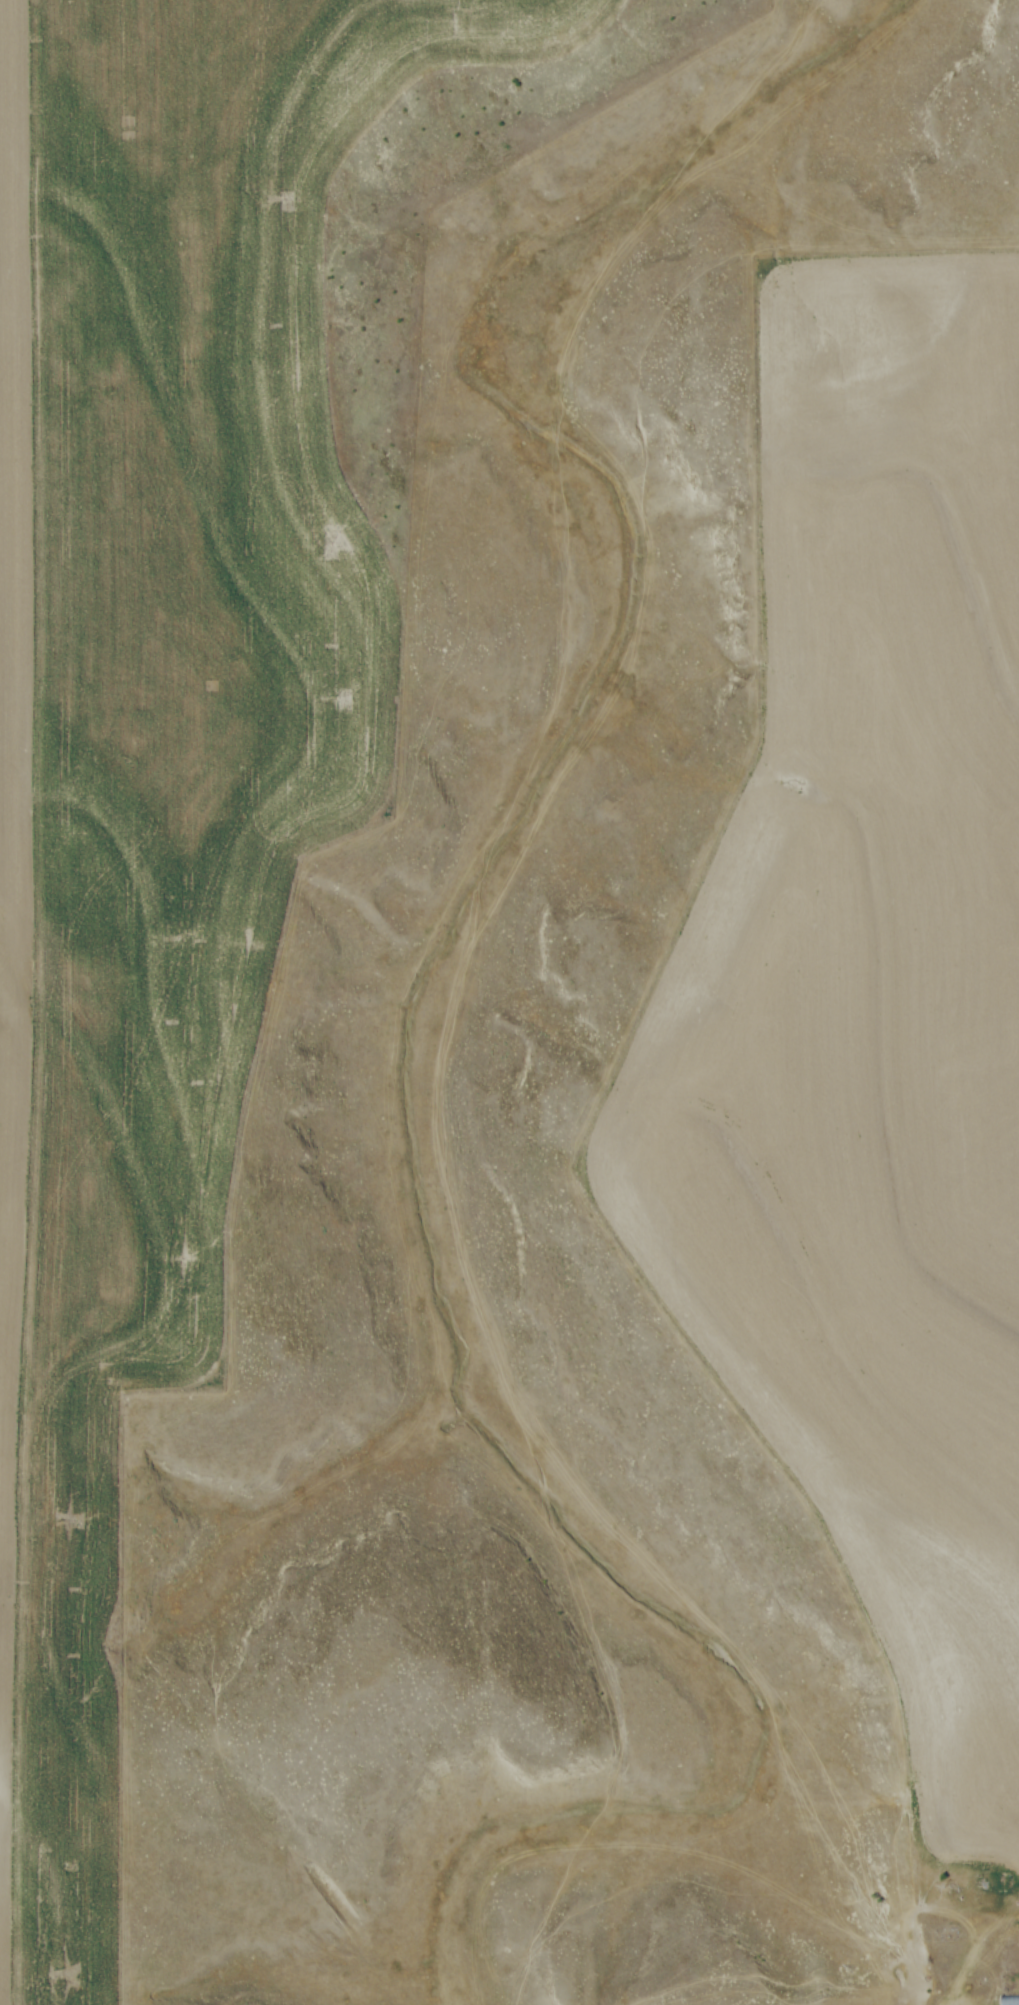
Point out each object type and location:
building: (1007, 2000)

